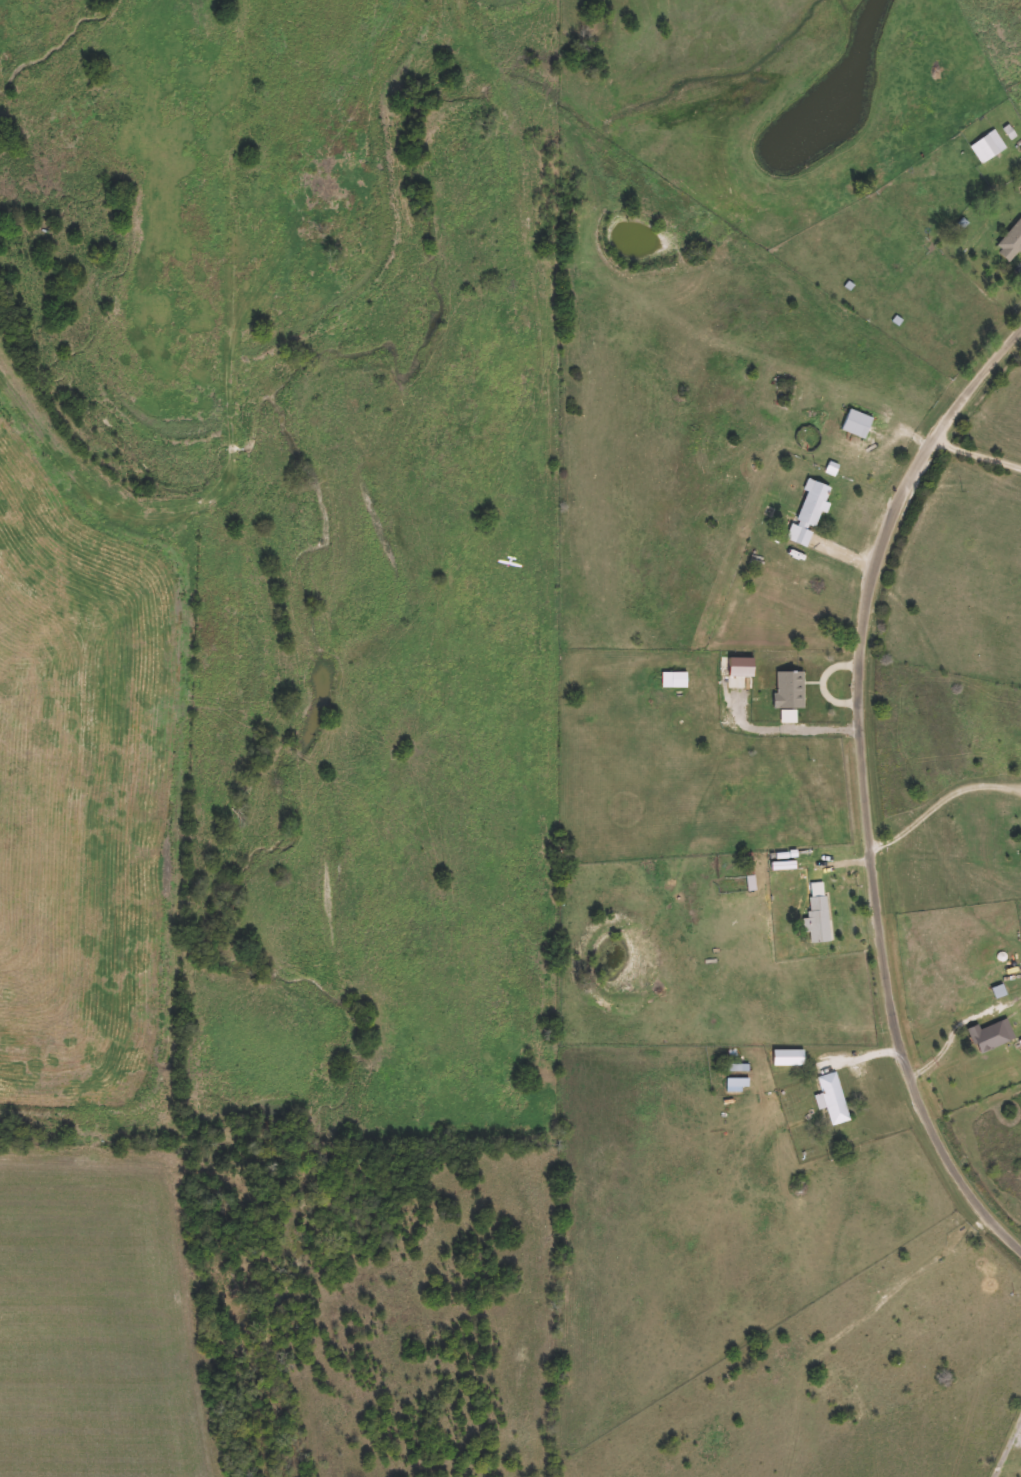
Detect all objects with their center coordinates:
building: (989, 146)
building: (1011, 242)
building: (857, 422)
road: (975, 455)
building: (809, 511)
road: (784, 730)
road: (863, 786)
road: (939, 801)
building: (750, 871)
building: (819, 919)
building: (992, 1035)
building: (738, 1082)
building: (834, 1098)
road: (1014, 1438)
road: (1005, 1442)

